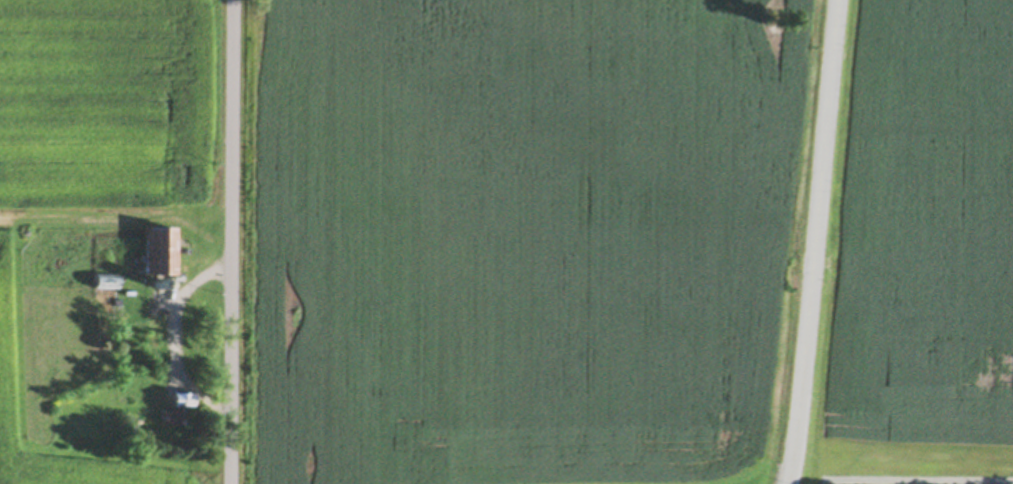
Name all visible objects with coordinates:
crop: (90, 173)
crop: (519, 235)
road: (234, 241)
road: (818, 242)
crop: (922, 252)
building: (160, 254)
building: (106, 280)
building: (159, 283)
road: (172, 334)
building: (176, 408)

